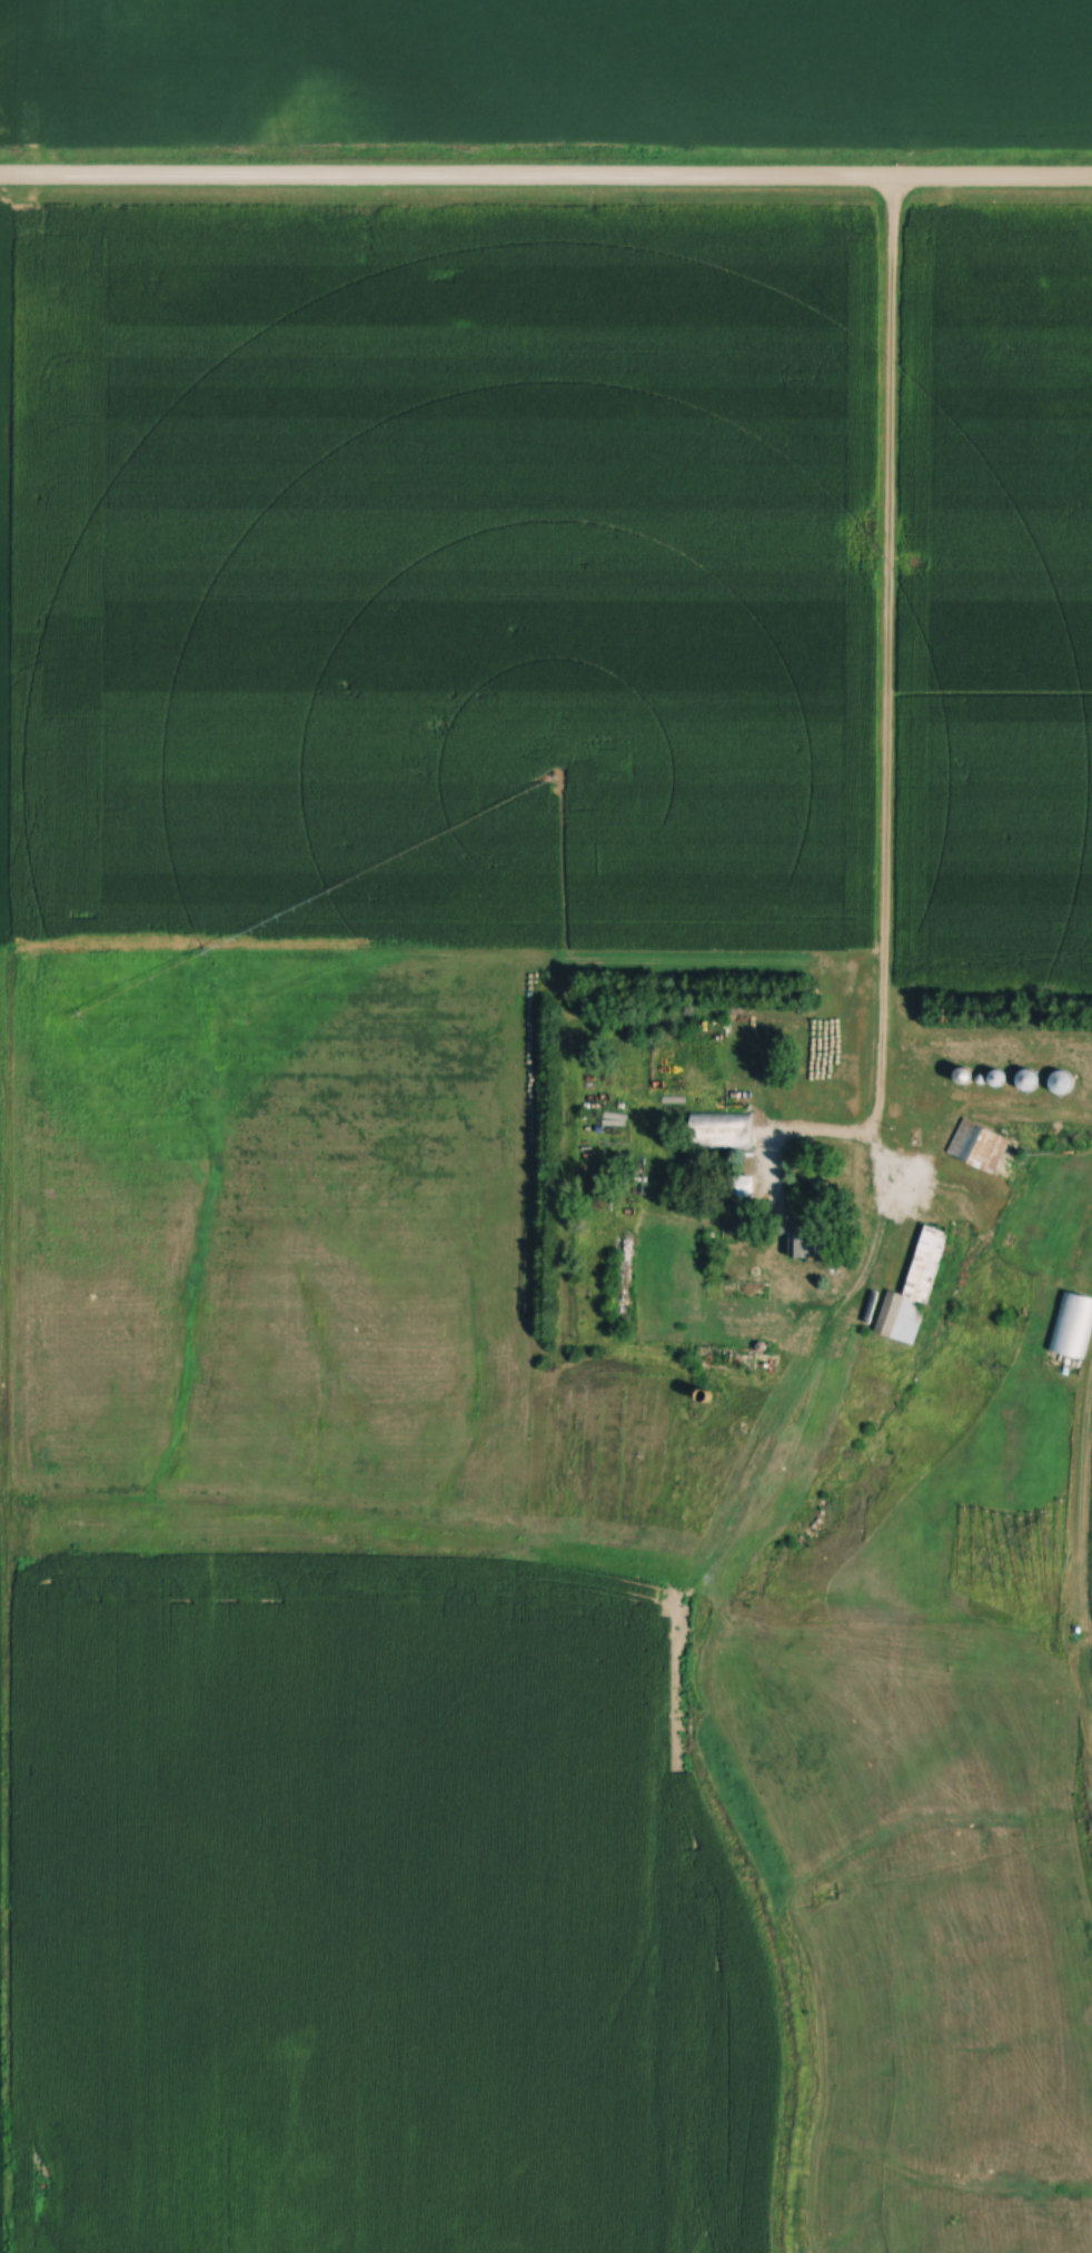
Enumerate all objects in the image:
road: (546, 181)
road: (885, 710)
building: (535, 1005)
building: (969, 1077)
building: (1029, 1083)
building: (1065, 1084)
building: (724, 1130)
building: (980, 1147)
building: (807, 1243)
building: (915, 1293)
building: (1073, 1326)

